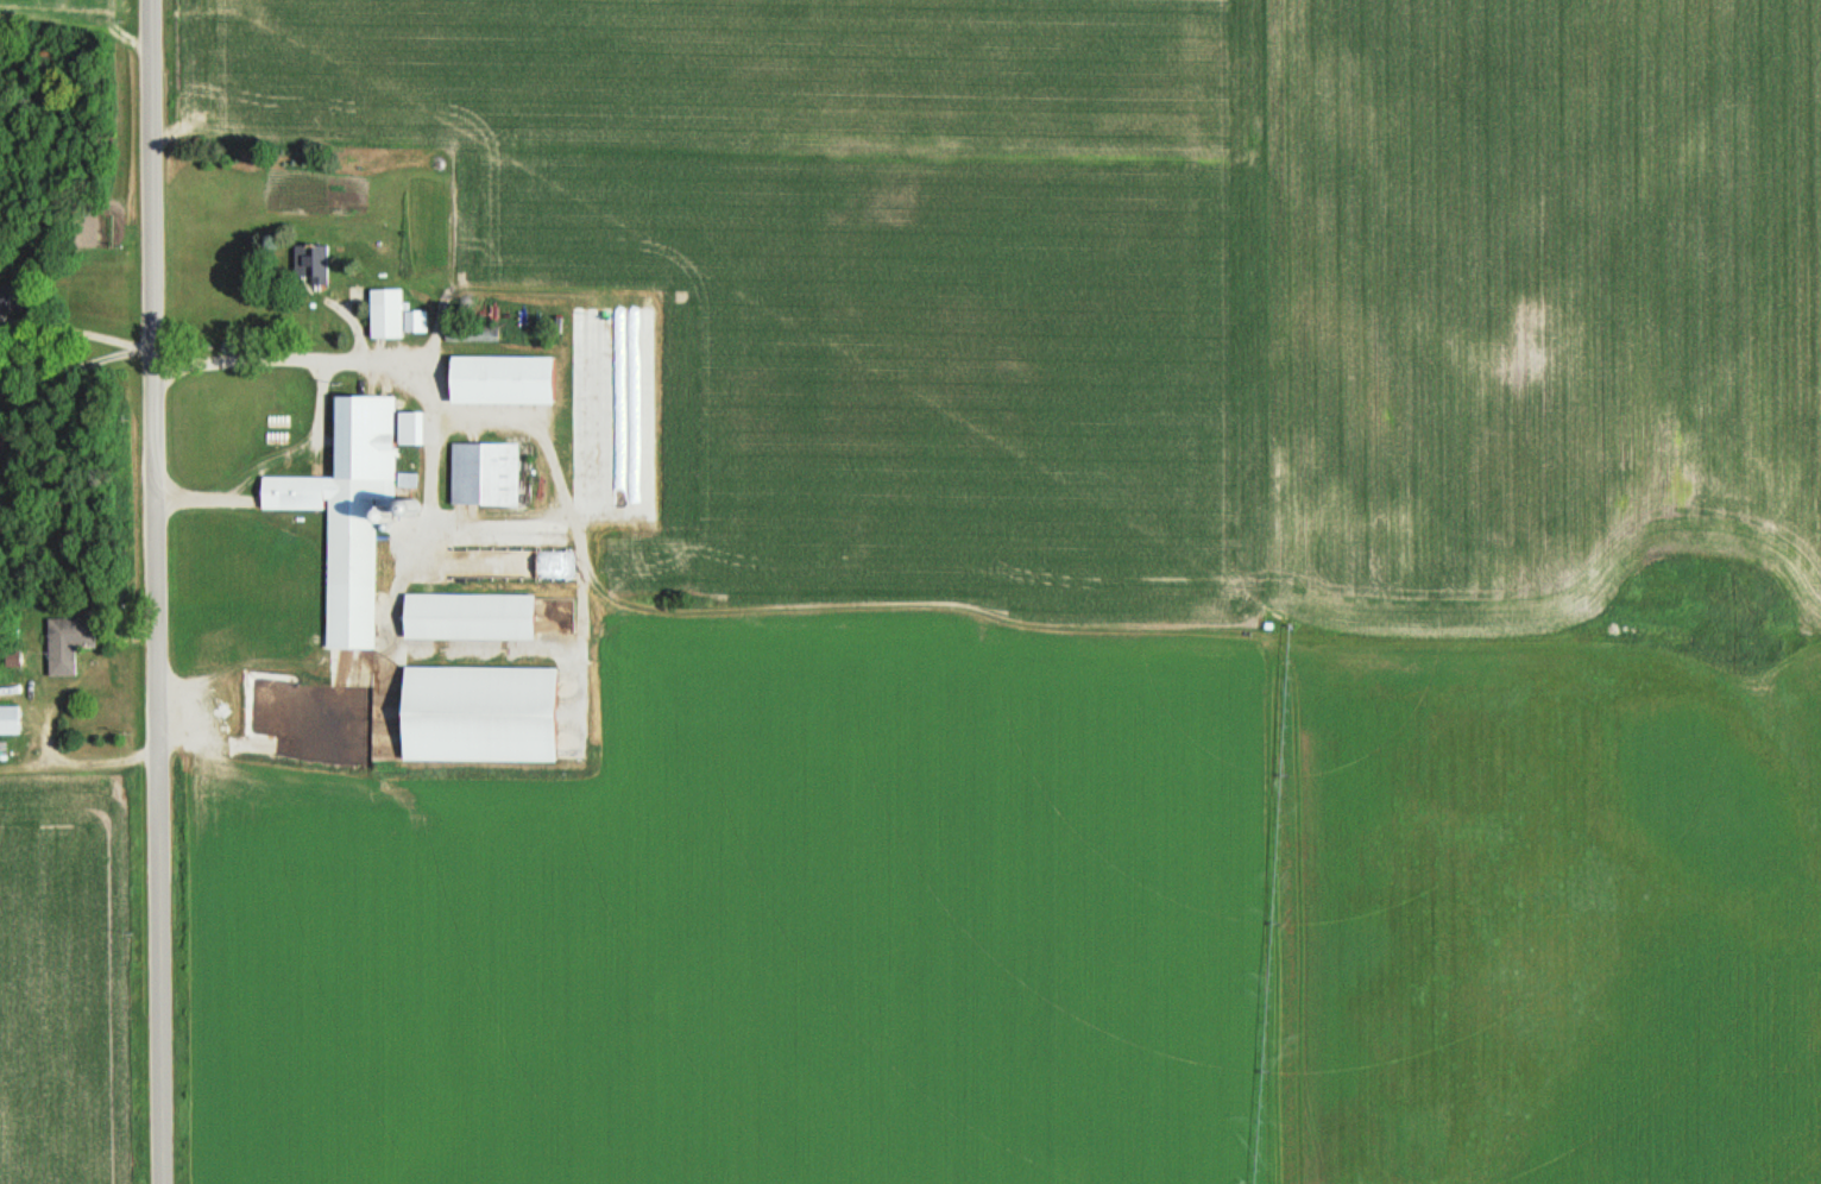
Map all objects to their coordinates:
road: (168, 131)
building: (311, 260)
building: (2, 295)
building: (392, 311)
road: (352, 317)
building: (473, 330)
road: (436, 335)
road: (149, 349)
building: (500, 378)
road: (427, 380)
road: (322, 412)
road: (326, 439)
building: (484, 472)
road: (554, 477)
road: (204, 498)
building: (347, 509)
road: (157, 591)
road: (978, 610)
building: (467, 615)
road: (132, 634)
building: (65, 640)
building: (11, 656)
road: (222, 716)
building: (7, 718)
road: (270, 742)
road: (40, 761)
road: (82, 761)

